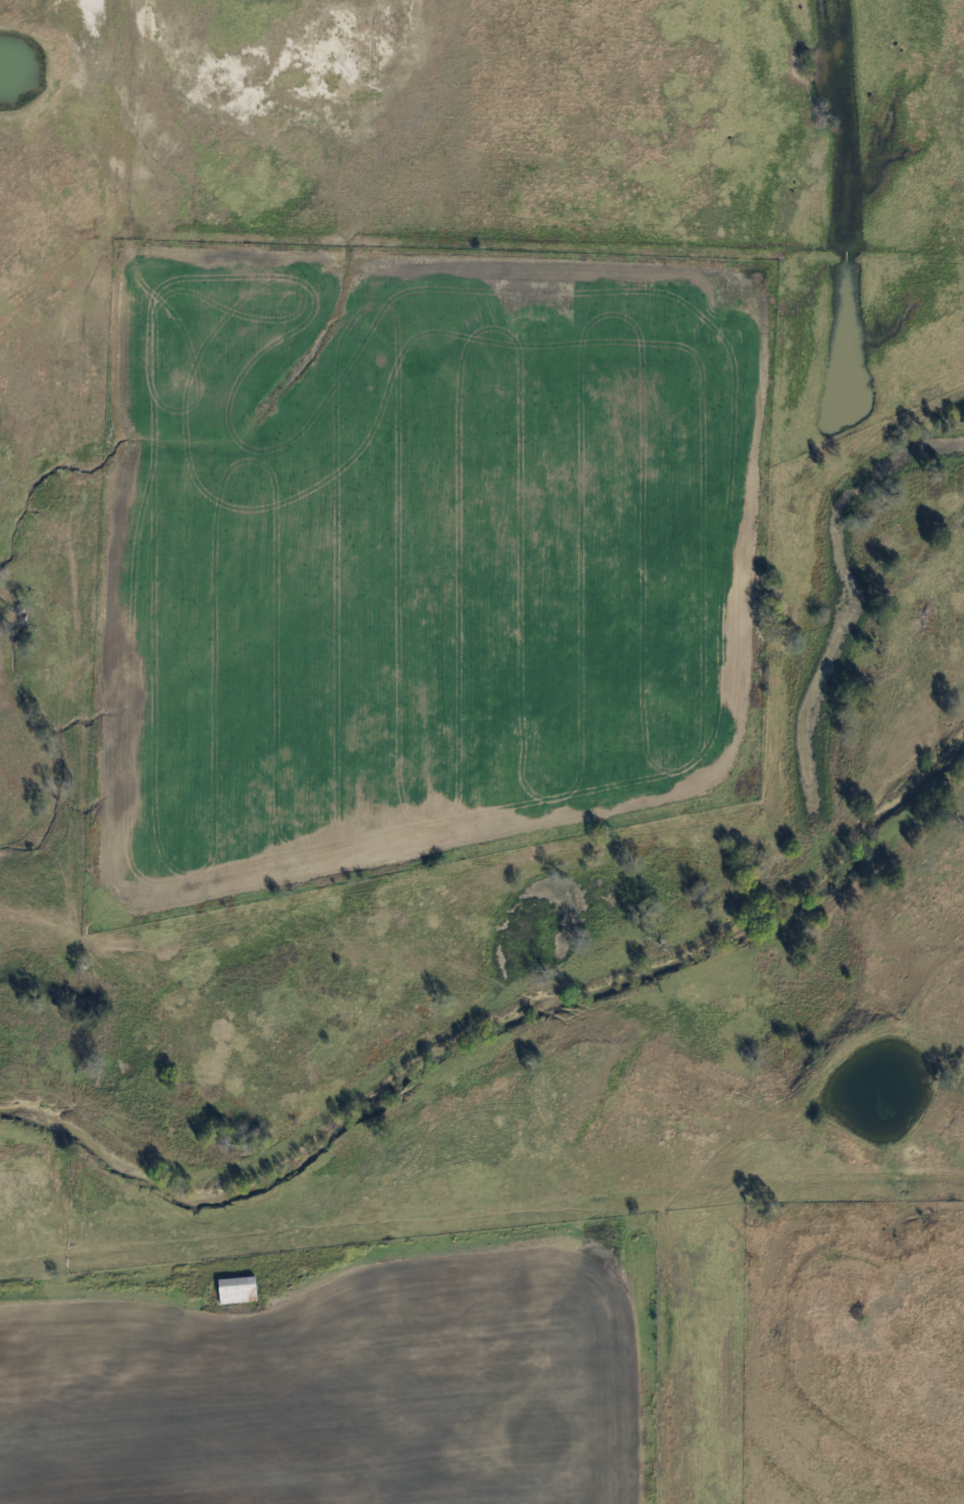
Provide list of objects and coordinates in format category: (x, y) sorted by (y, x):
building: (234, 1289)

